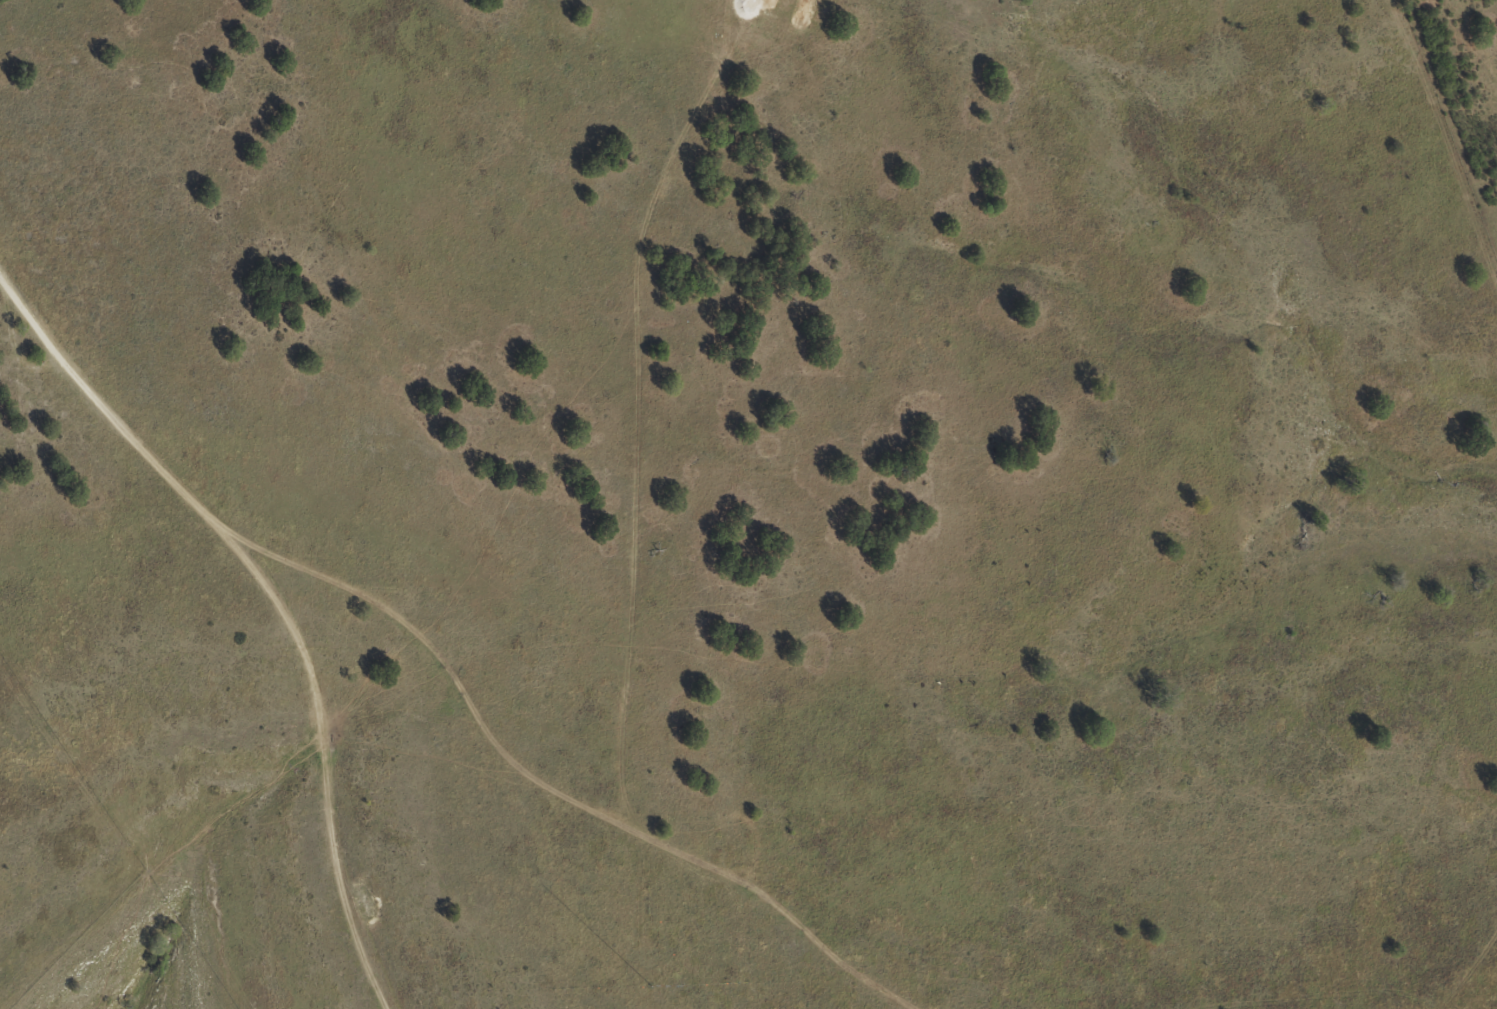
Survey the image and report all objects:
road: (261, 610)

